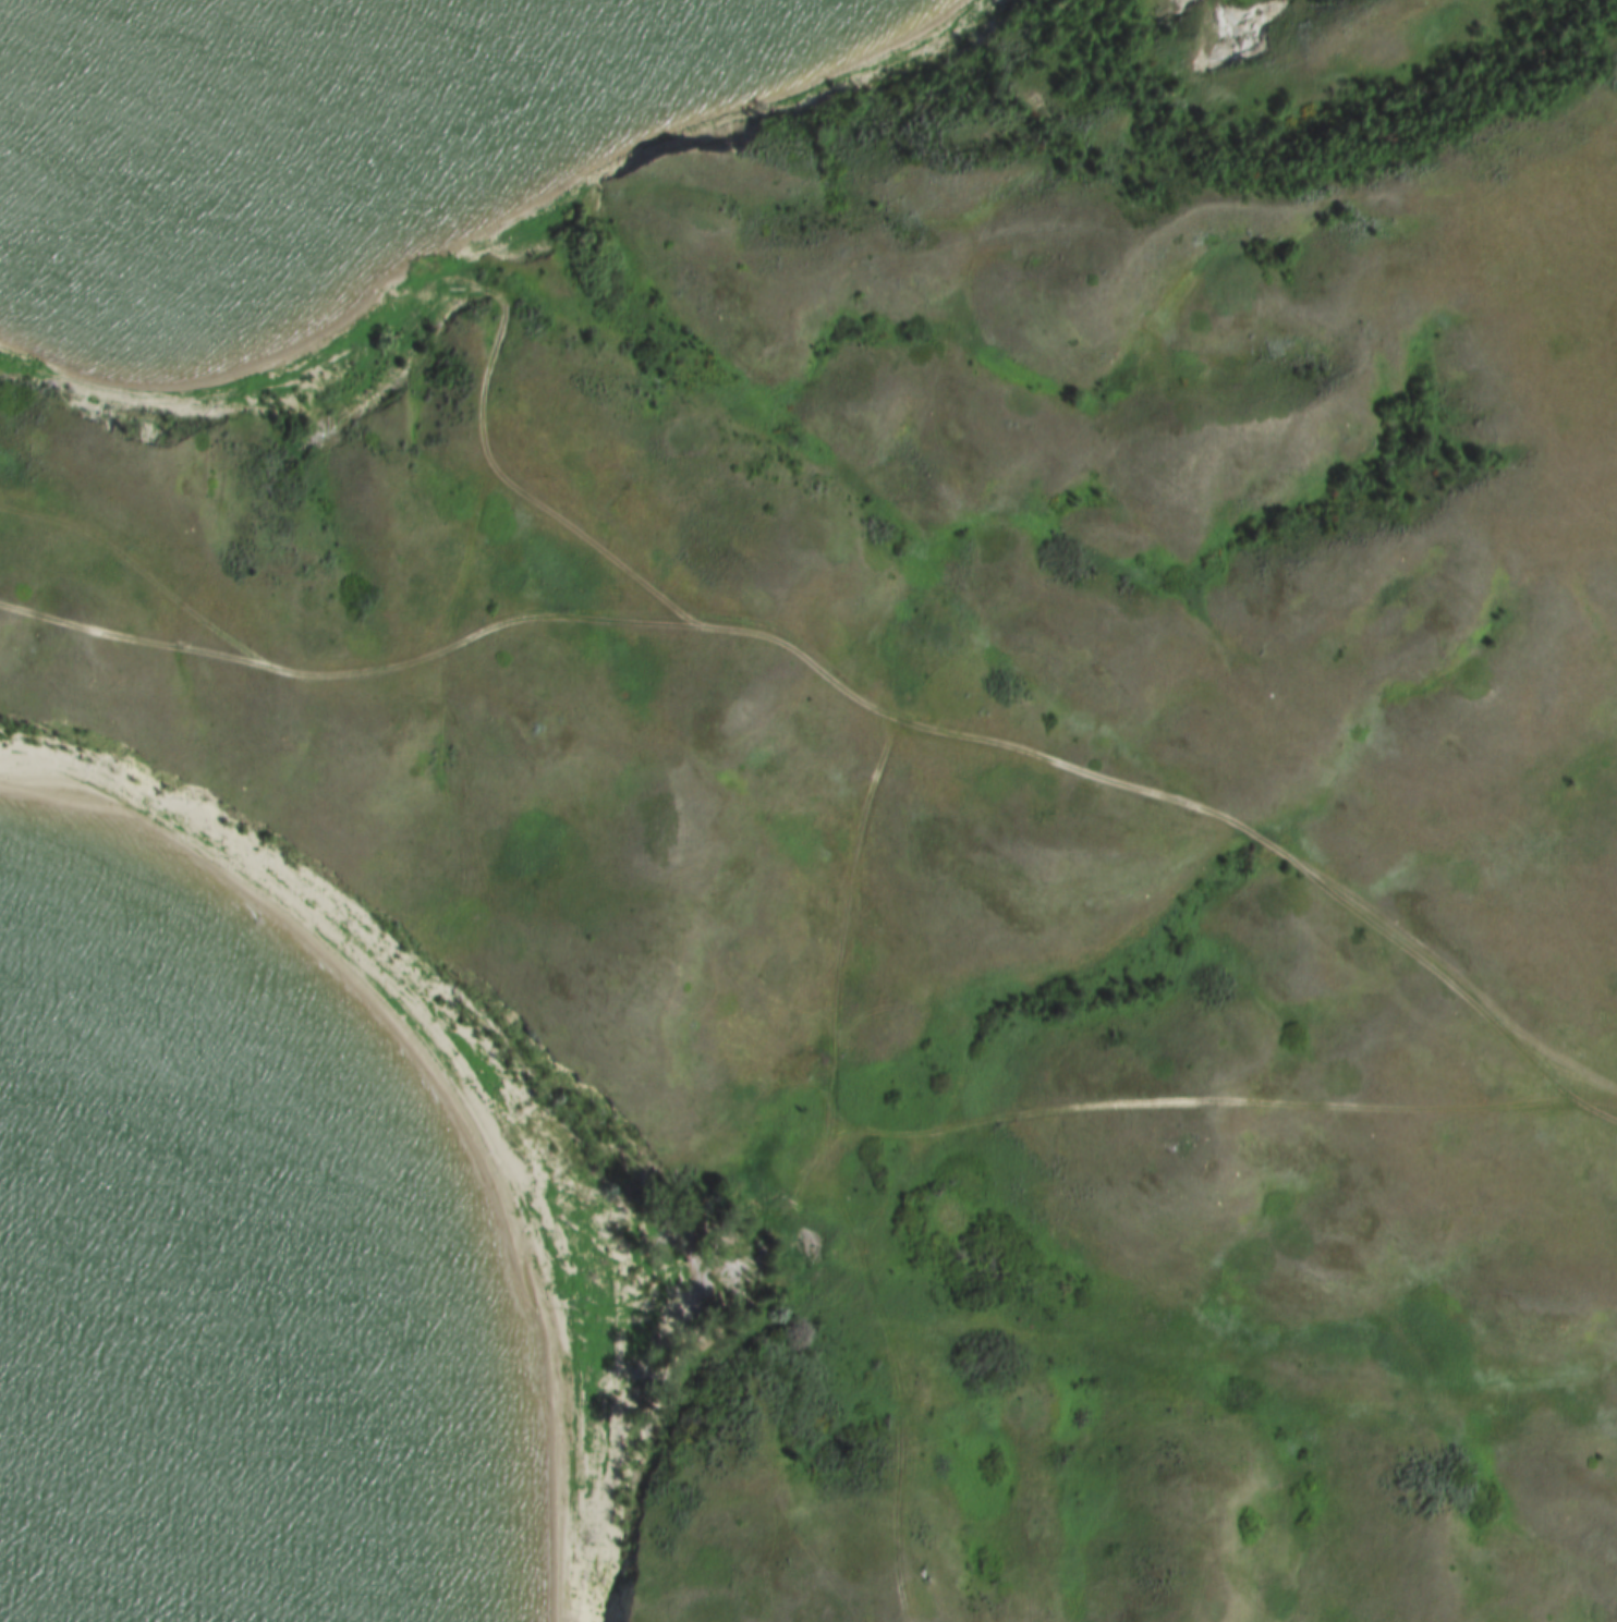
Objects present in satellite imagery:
road: (342, 681)
road: (949, 734)
road: (1016, 1119)

